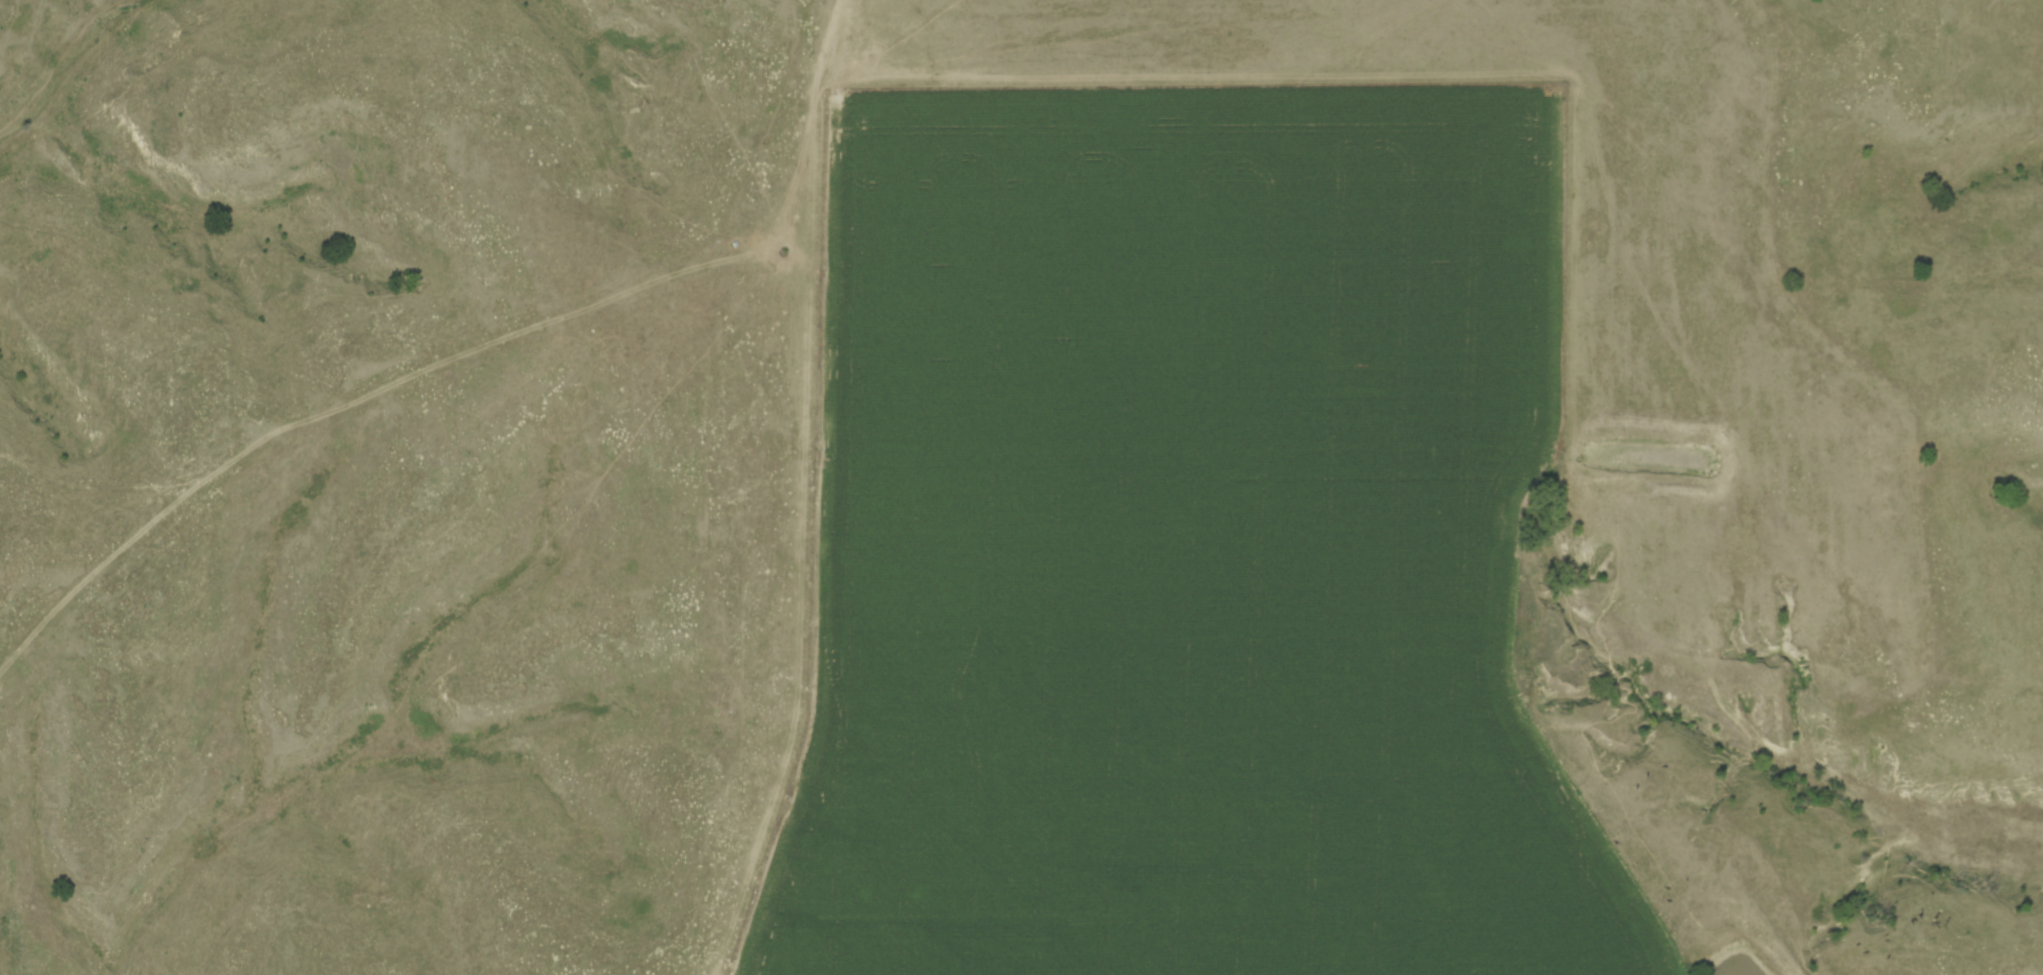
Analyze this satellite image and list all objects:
crop: (1198, 544)

